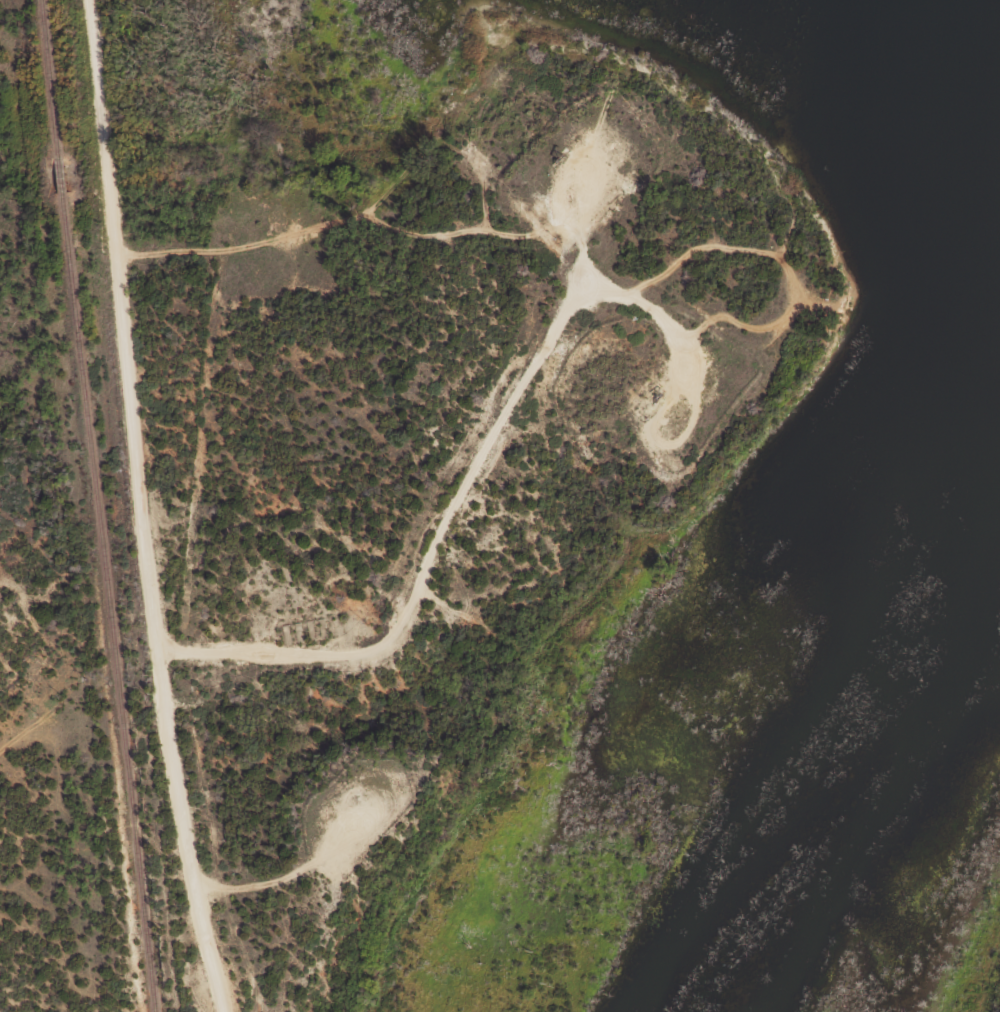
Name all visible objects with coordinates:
road: (572, 305)
road: (684, 318)
road: (151, 505)
railway: (92, 506)
road: (526, 926)

